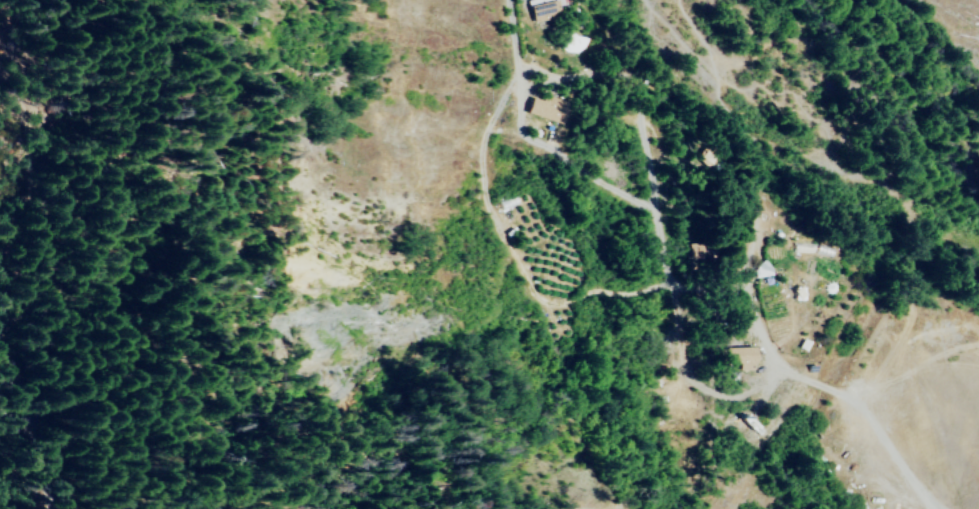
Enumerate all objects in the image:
building: (545, 9)
building: (551, 108)
building: (509, 202)
building: (763, 269)
building: (743, 357)
road: (17, 477)

